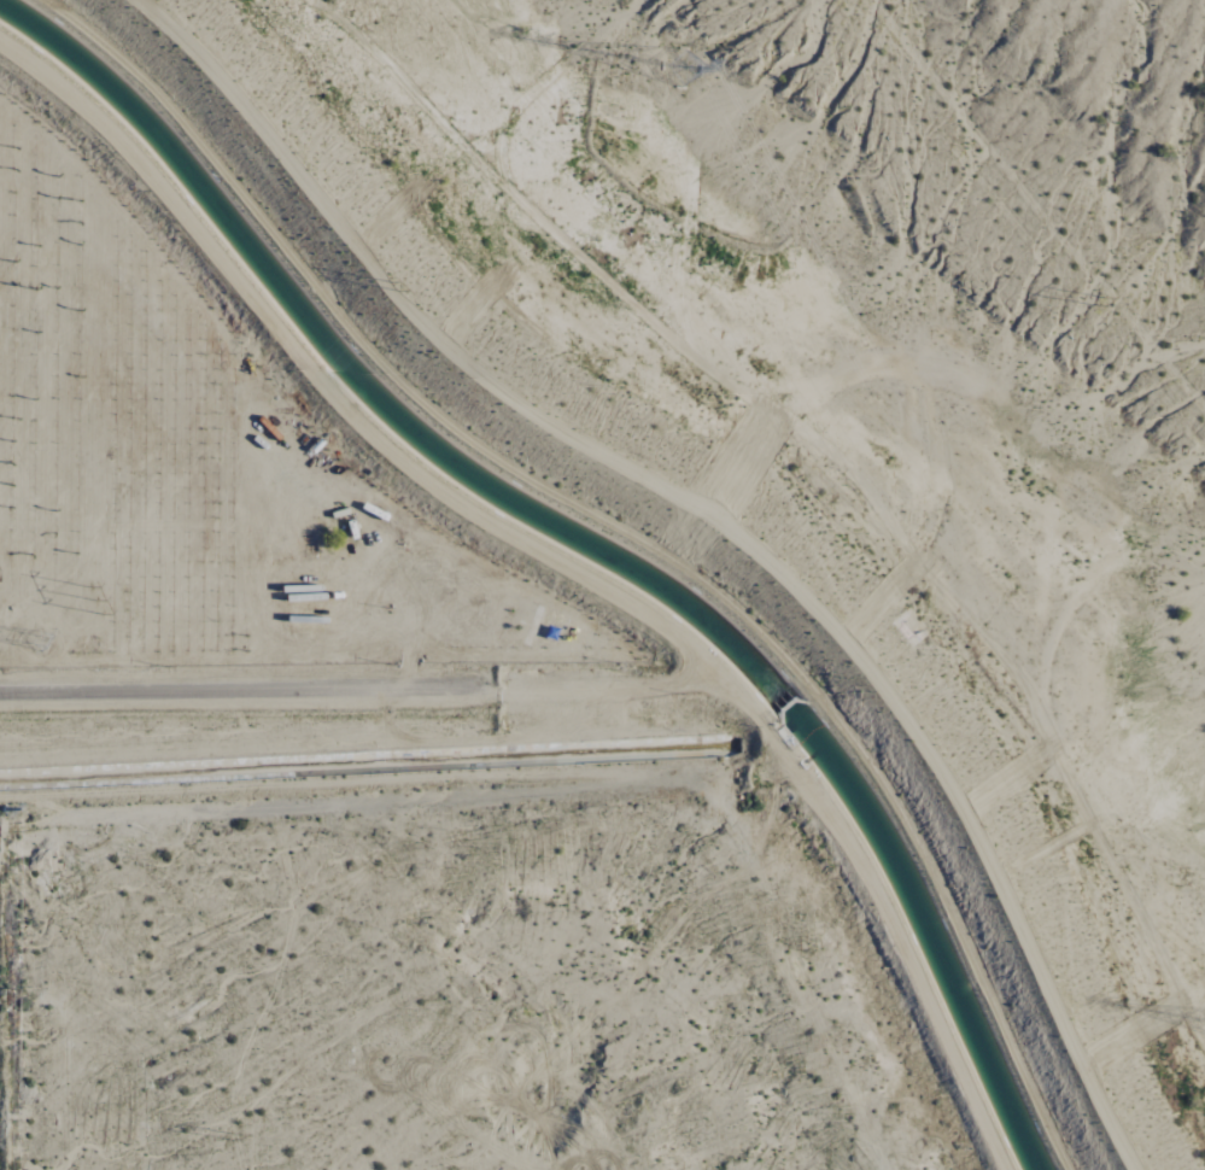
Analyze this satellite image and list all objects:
power tower: (672, 59)
power tower: (397, 289)
power tower: (1101, 308)
power tower: (94, 604)
power tower: (40, 643)
road: (250, 691)
power tower: (6, 808)
road: (870, 884)
power tower: (1197, 1019)
power tower: (235, 1137)

